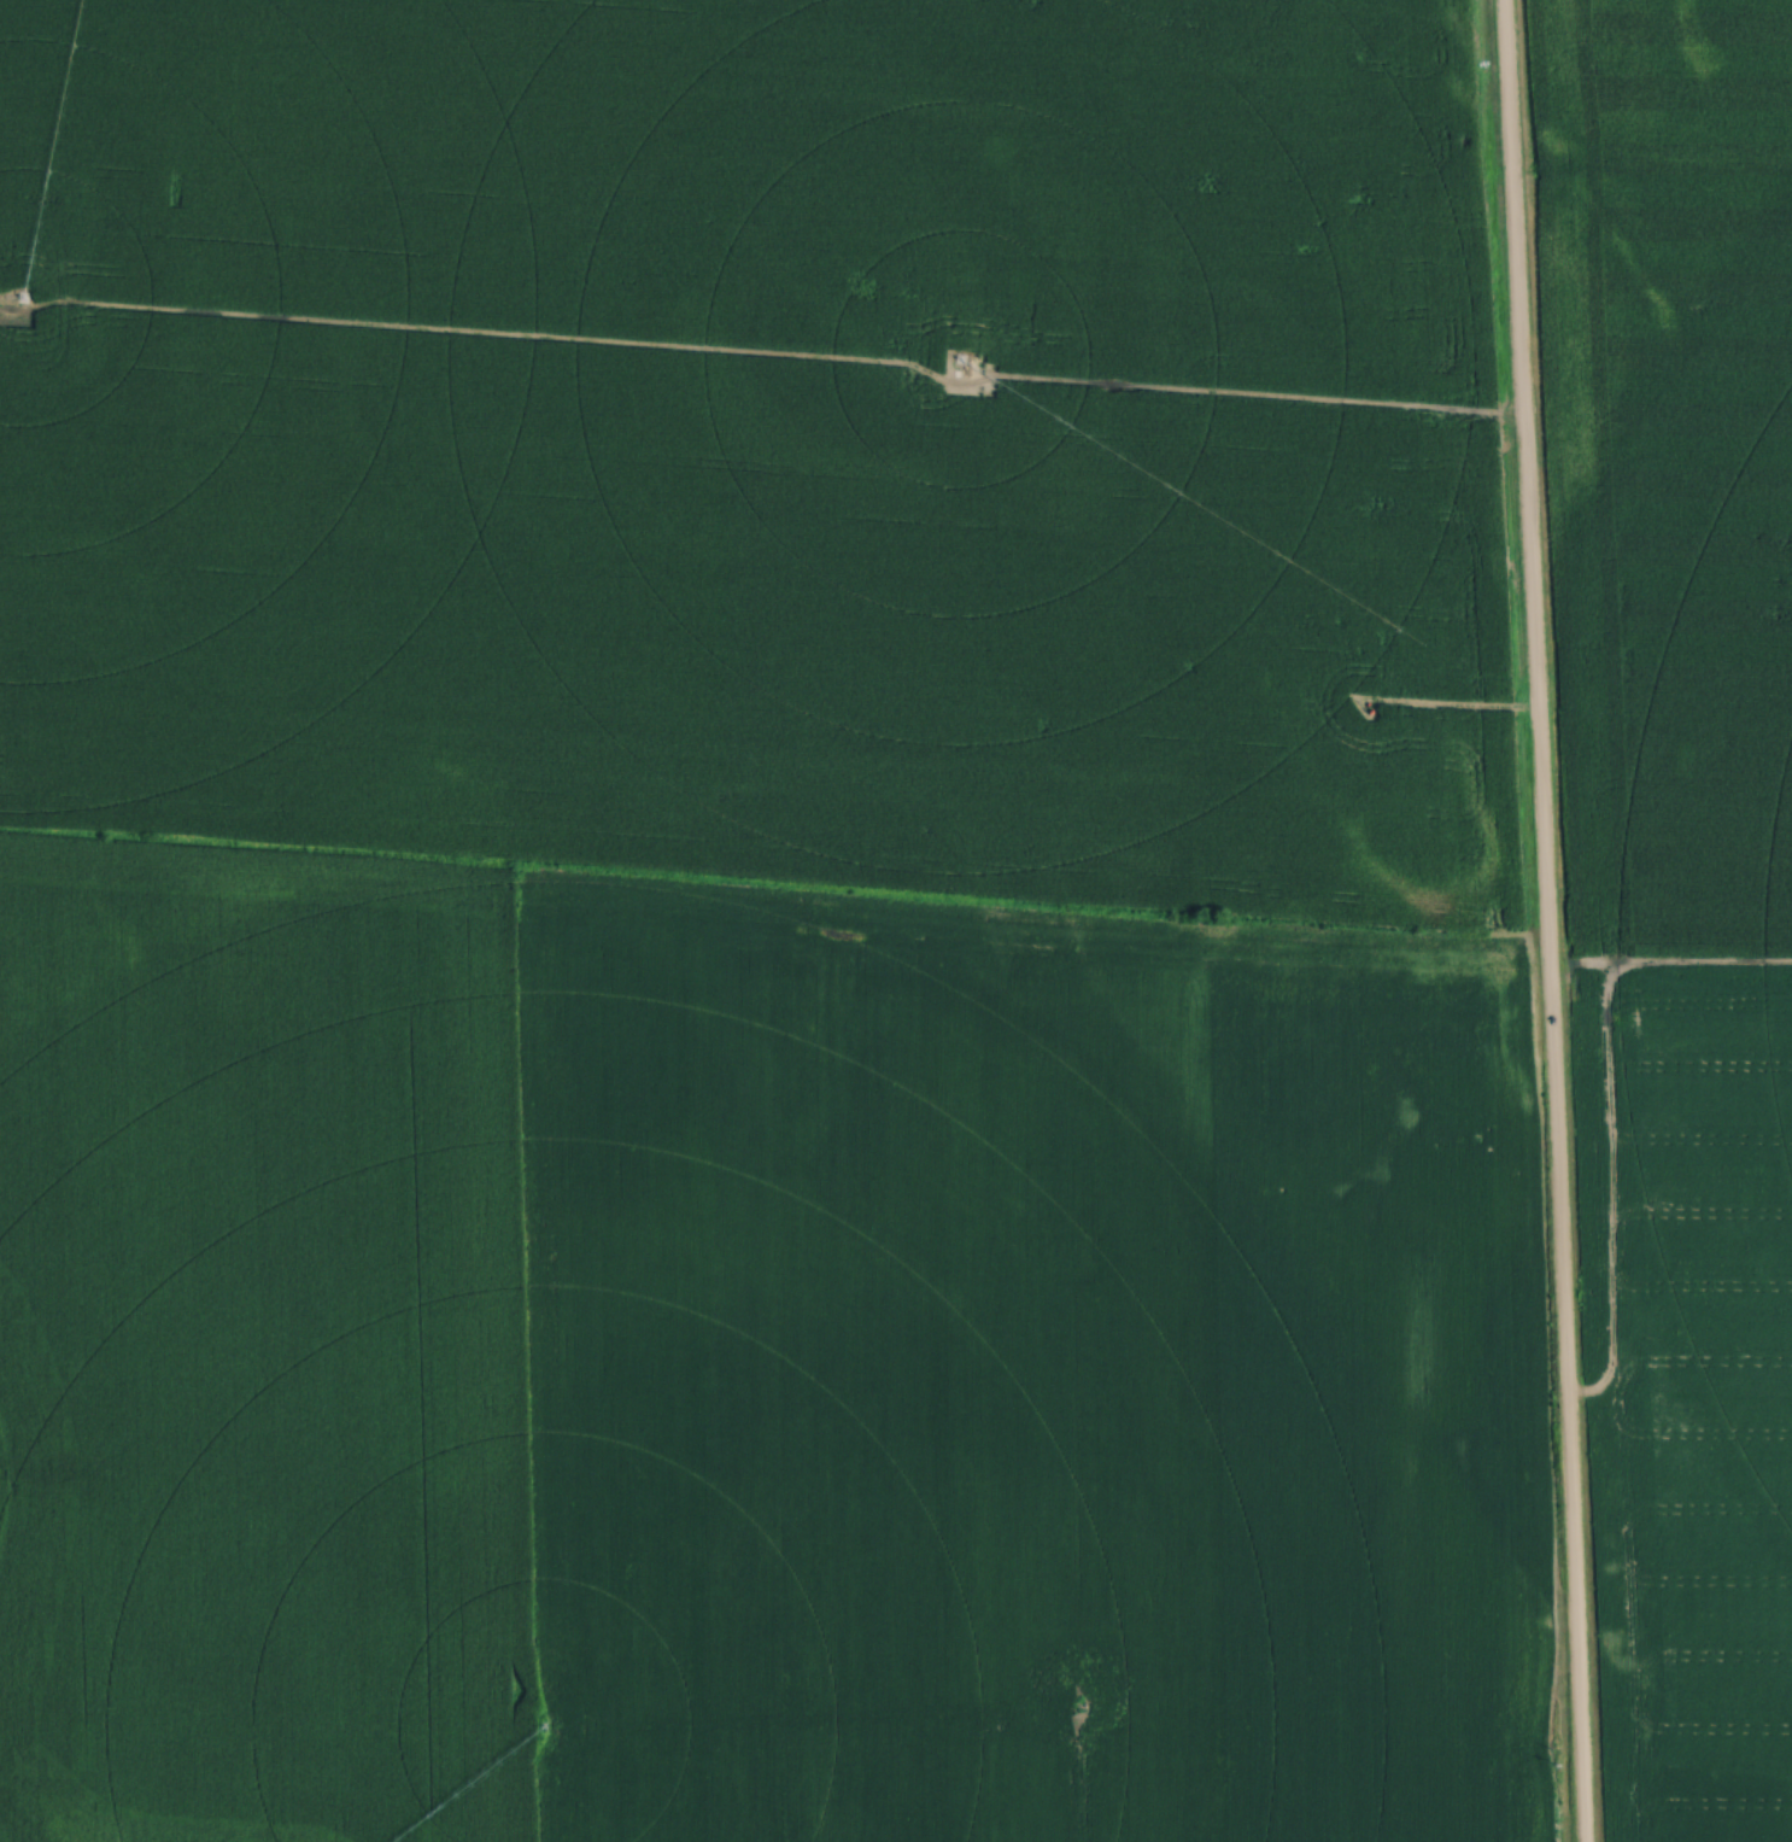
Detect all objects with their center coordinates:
road: (1547, 920)

